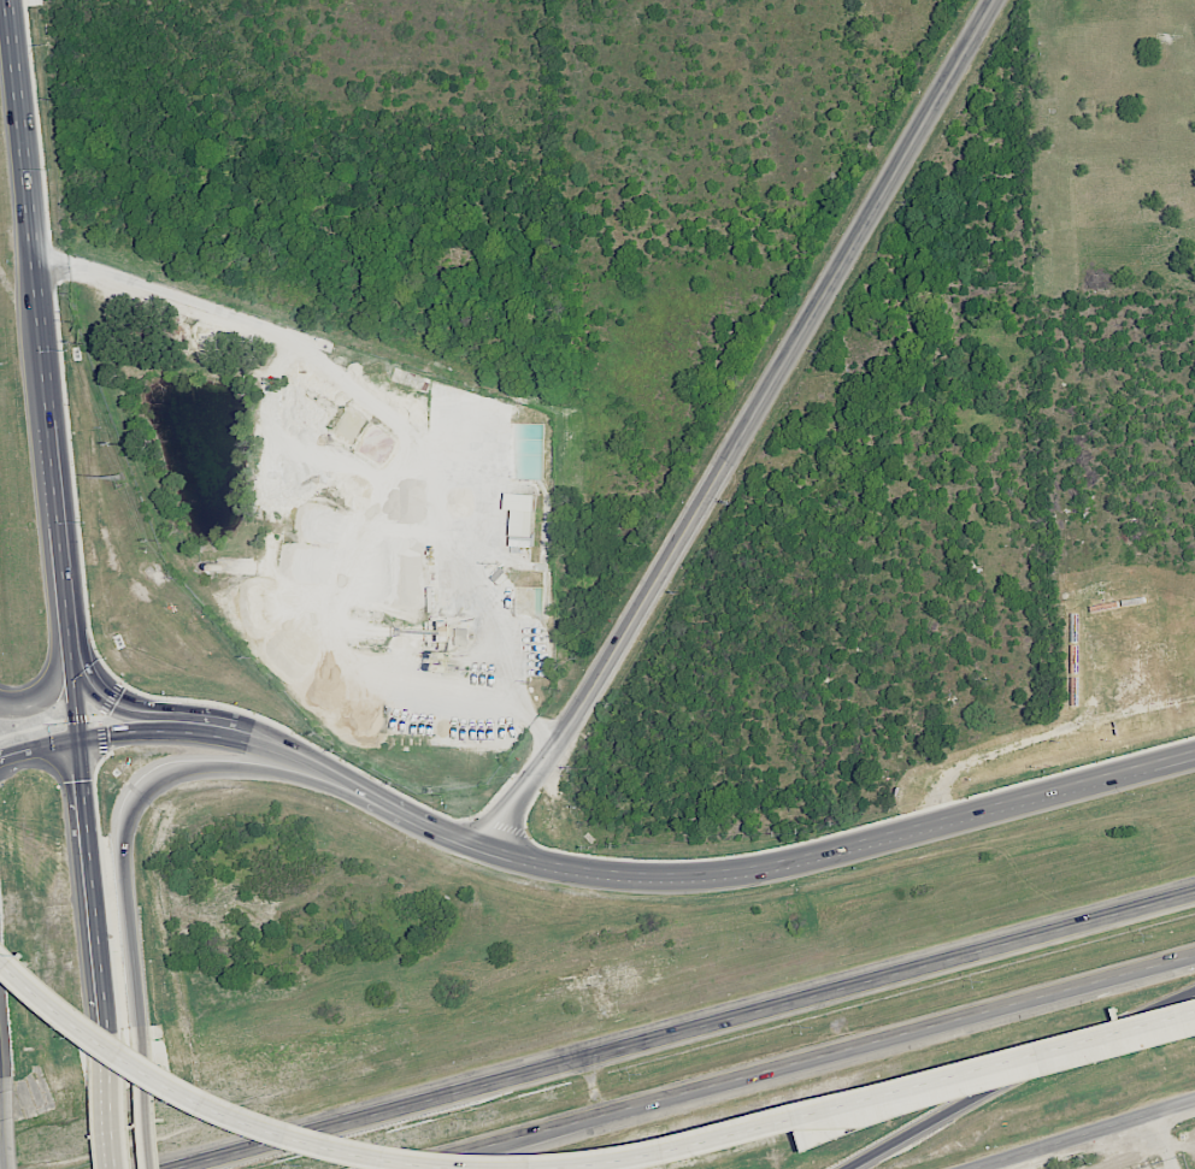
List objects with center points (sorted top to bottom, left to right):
road: (19, 135)
park: (1109, 147)
road: (41, 348)
road: (382, 419)
road: (747, 426)
building: (519, 519)
road: (60, 541)
building: (1096, 592)
building: (1134, 600)
building: (1103, 607)
building: (1075, 627)
building: (1075, 659)
building: (1075, 692)
road: (43, 693)
road: (76, 696)
road: (114, 704)
building: (1152, 728)
traffic signals: (81, 736)
road: (1022, 743)
road: (130, 819)
road: (589, 869)
road: (93, 892)
road: (688, 1035)
road: (795, 1061)
road: (1017, 1073)
road: (147, 1104)
road: (877, 1104)
road: (112, 1109)
road: (235, 1110)
road: (4, 1128)
road: (1085, 1134)
road: (1164, 1140)
road: (1058, 1157)

